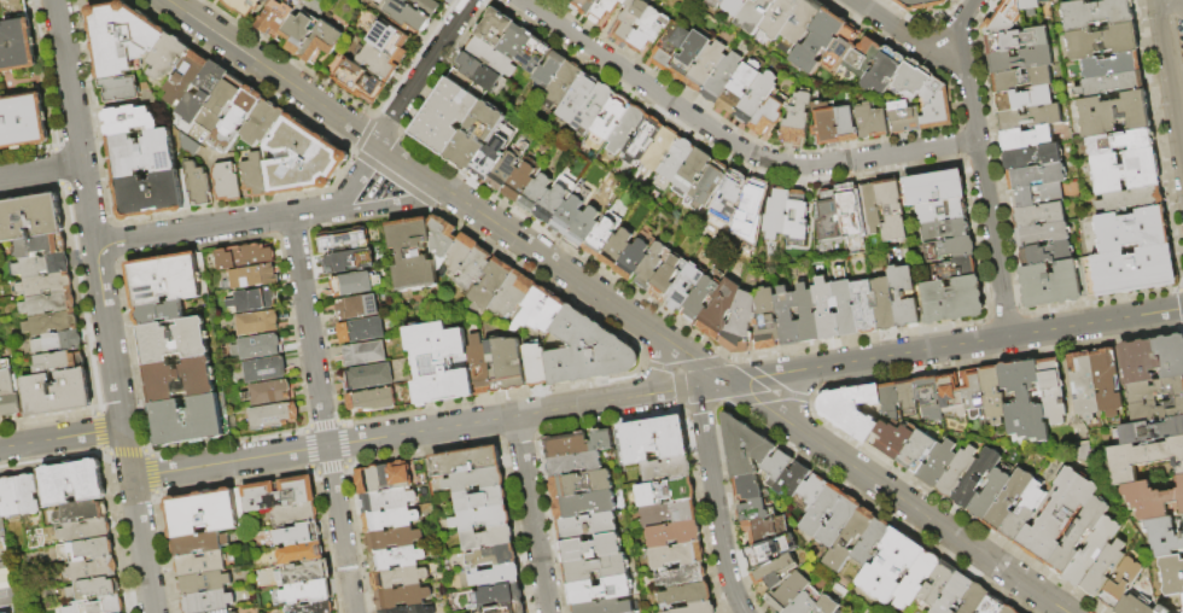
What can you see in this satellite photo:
building: (1082, 0)
building: (6, 1)
building: (1045, 1)
building: (717, 2)
building: (921, 5)
building: (244, 6)
building: (429, 6)
building: (584, 6)
building: (736, 7)
building: (1031, 7)
building: (606, 12)
building: (1097, 14)
building: (756, 16)
road: (920, 16)
building: (278, 17)
building: (408, 17)
building: (631, 19)
building: (780, 19)
building: (1004, 19)
parking lot: (1178, 23)
building: (800, 27)
building: (495, 28)
building: (649, 31)
building: (299, 33)
road: (904, 34)
building: (385, 36)
building: (122, 40)
building: (820, 41)
building: (1018, 41)
building: (322, 42)
building: (1103, 42)
building: (517, 43)
building: (671, 47)
building: (18, 48)
building: (401, 48)
building: (841, 51)
building: (535, 56)
building: (168, 57)
building: (493, 58)
building: (689, 58)
building: (864, 60)
building: (1021, 60)
building: (380, 63)
building: (706, 68)
building: (1112, 68)
road: (422, 70)
building: (885, 70)
building: (550, 71)
building: (480, 72)
road: (1170, 77)
building: (187, 78)
building: (723, 78)
building: (914, 80)
building: (1022, 80)
building: (468, 83)
building: (362, 84)
building: (564, 86)
building: (1112, 86)
building: (121, 89)
building: (738, 89)
building: (204, 94)
building: (228, 95)
road: (344, 95)
building: (578, 99)
building: (756, 99)
building: (1025, 100)
building: (938, 105)
building: (594, 111)
building: (1114, 115)
building: (445, 117)
building: (769, 117)
building: (904, 117)
building: (611, 119)
building: (1031, 119)
building: (238, 121)
building: (130, 122)
building: (798, 122)
building: (866, 122)
building: (23, 123)
building: (826, 124)
building: (881, 124)
building: (264, 125)
building: (847, 125)
building: (628, 130)
building: (476, 136)
building: (646, 139)
building: (1027, 140)
road: (730, 141)
building: (1121, 144)
building: (660, 151)
building: (0, 152)
building: (144, 156)
building: (491, 157)
building: (1033, 158)
building: (303, 160)
building: (677, 160)
road: (980, 167)
building: (508, 168)
road: (40, 169)
building: (693, 173)
building: (1127, 173)
building: (256, 177)
building: (1037, 177)
road: (356, 179)
building: (227, 183)
building: (521, 183)
building: (199, 186)
building: (709, 186)
building: (936, 188)
building: (153, 195)
building: (537, 195)
building: (732, 197)
building: (1037, 197)
building: (556, 200)
building: (1132, 202)
road: (390, 203)
building: (752, 208)
building: (870, 209)
building: (850, 211)
building: (892, 212)
building: (942, 212)
building: (30, 215)
building: (777, 215)
building: (831, 216)
building: (569, 217)
building: (1039, 217)
building: (798, 220)
road: (211, 227)
building: (585, 228)
building: (946, 232)
building: (1132, 232)
building: (602, 235)
building: (1043, 235)
building: (374, 237)
building: (443, 237)
building: (344, 241)
building: (40, 244)
building: (617, 250)
building: (951, 251)
building: (461, 255)
building: (1048, 255)
building: (414, 256)
building: (246, 257)
building: (633, 261)
building: (350, 262)
building: (41, 264)
building: (653, 267)
building: (476, 269)
building: (955, 270)
building: (1135, 272)
building: (669, 278)
building: (252, 279)
building: (169, 280)
building: (46, 284)
building: (355, 285)
building: (494, 285)
building: (1054, 285)
building: (686, 288)
building: (513, 297)
building: (704, 297)
building: (905, 298)
building: (255, 302)
building: (955, 302)
building: (47, 303)
road: (104, 305)
building: (846, 305)
building: (884, 305)
road: (617, 306)
building: (359, 308)
building: (864, 308)
building: (543, 310)
building: (721, 311)
building: (827, 311)
building: (159, 314)
building: (808, 315)
building: (788, 319)
building: (768, 321)
building: (49, 322)
building: (258, 325)
building: (741, 326)
building: (362, 332)
building: (58, 340)
building: (175, 341)
building: (260, 348)
building: (589, 351)
building: (366, 354)
building: (57, 360)
building: (1153, 360)
building: (439, 363)
building: (507, 364)
building: (479, 366)
building: (537, 367)
road: (659, 367)
building: (266, 370)
building: (371, 378)
building: (181, 380)
building: (1108, 385)
building: (1084, 387)
building: (7, 392)
building: (57, 392)
road: (657, 392)
building: (973, 392)
building: (1054, 392)
building: (1154, 392)
building: (269, 393)
road: (791, 396)
building: (952, 396)
building: (993, 397)
building: (909, 399)
building: (931, 401)
building: (373, 402)
building: (891, 402)
building: (1024, 402)
building: (849, 409)
building: (1156, 411)
road: (322, 414)
building: (275, 416)
building: (192, 421)
building: (1148, 433)
road: (62, 438)
building: (896, 439)
building: (651, 440)
building: (576, 444)
building: (917, 453)
building: (746, 456)
building: (1143, 460)
building: (461, 462)
building: (576, 463)
building: (938, 465)
building: (666, 469)
building: (777, 469)
building: (957, 474)
building: (383, 478)
building: (978, 478)
building: (473, 480)
building: (794, 481)
building: (71, 483)
building: (581, 484)
building: (814, 491)
building: (665, 492)
building: (279, 494)
building: (28, 495)
building: (990, 496)
building: (10, 498)
building: (479, 500)
road: (715, 501)
building: (1009, 501)
building: (385, 502)
building: (1154, 502)
building: (584, 506)
building: (239, 507)
building: (80, 512)
building: (200, 512)
building: (822, 512)
building: (753, 513)
road: (531, 514)
building: (668, 514)
building: (1025, 514)
building: (295, 515)
building: (1057, 516)
building: (480, 519)
building: (389, 520)
building: (840, 522)
building: (587, 526)
building: (765, 530)
building: (84, 531)
building: (299, 535)
building: (672, 535)
building: (1079, 536)
building: (391, 538)
building: (485, 538)
building: (1165, 538)
building: (850, 541)
building: (872, 542)
building: (198, 543)
building: (591, 549)
building: (84, 550)
building: (770, 551)
building: (1092, 553)
building: (301, 554)
building: (676, 555)
building: (491, 556)
building: (394, 559)
building: (199, 564)
building: (891, 568)
building: (596, 570)
building: (1105, 570)
building: (91, 571)
building: (303, 573)
building: (776, 573)
building: (1172, 576)
building: (495, 577)
building: (682, 577)
building: (398, 578)
building: (917, 580)
building: (203, 582)
building: (1123, 584)
building: (938, 585)
building: (4, 588)
building: (91, 590)
building: (599, 591)
building: (307, 592)
building: (954, 594)
building: (497, 595)
building: (687, 595)
building: (788, 595)
building: (401, 597)
building: (205, 600)
building: (975, 600)
building: (805, 602)
building: (95, 606)
building: (993, 606)
building: (1134, 606)
building: (311, 607)
building: (509, 607)
building: (605, 607)
building: (828, 607)
building: (697, 608)
building: (412, 609)
building: (216, 611)
building: (1009, 611)
building: (233, 612)
building: (839, 612)
building: (1178, 612)

